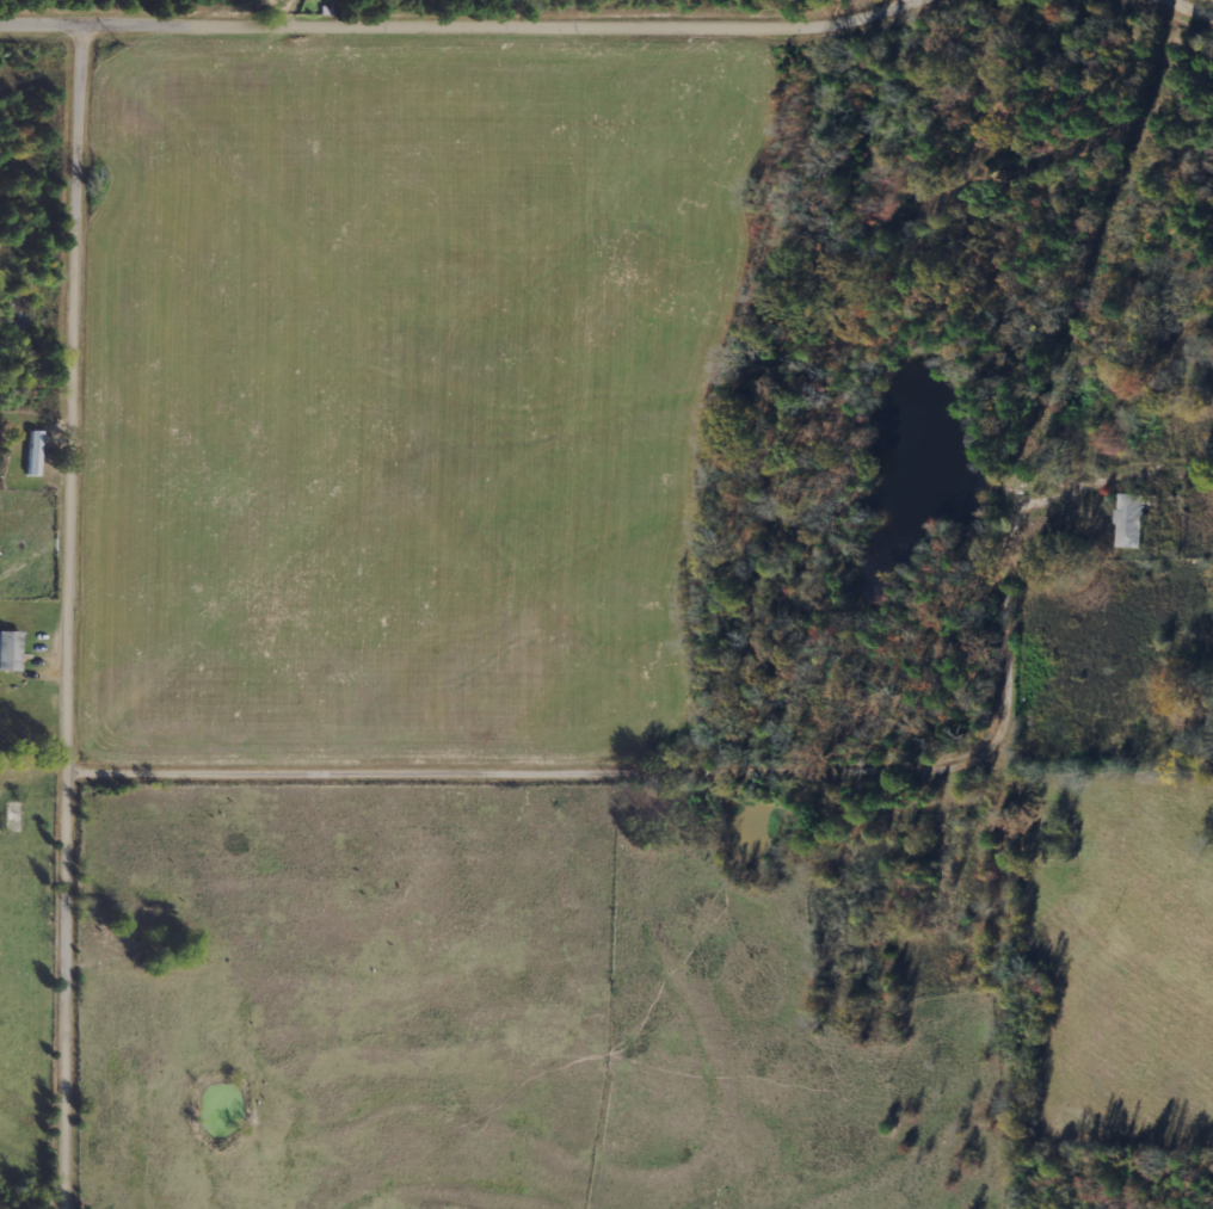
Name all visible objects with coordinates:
road: (1186, 6)
road: (461, 23)
building: (1129, 520)
road: (78, 613)
building: (10, 649)
road: (671, 765)

